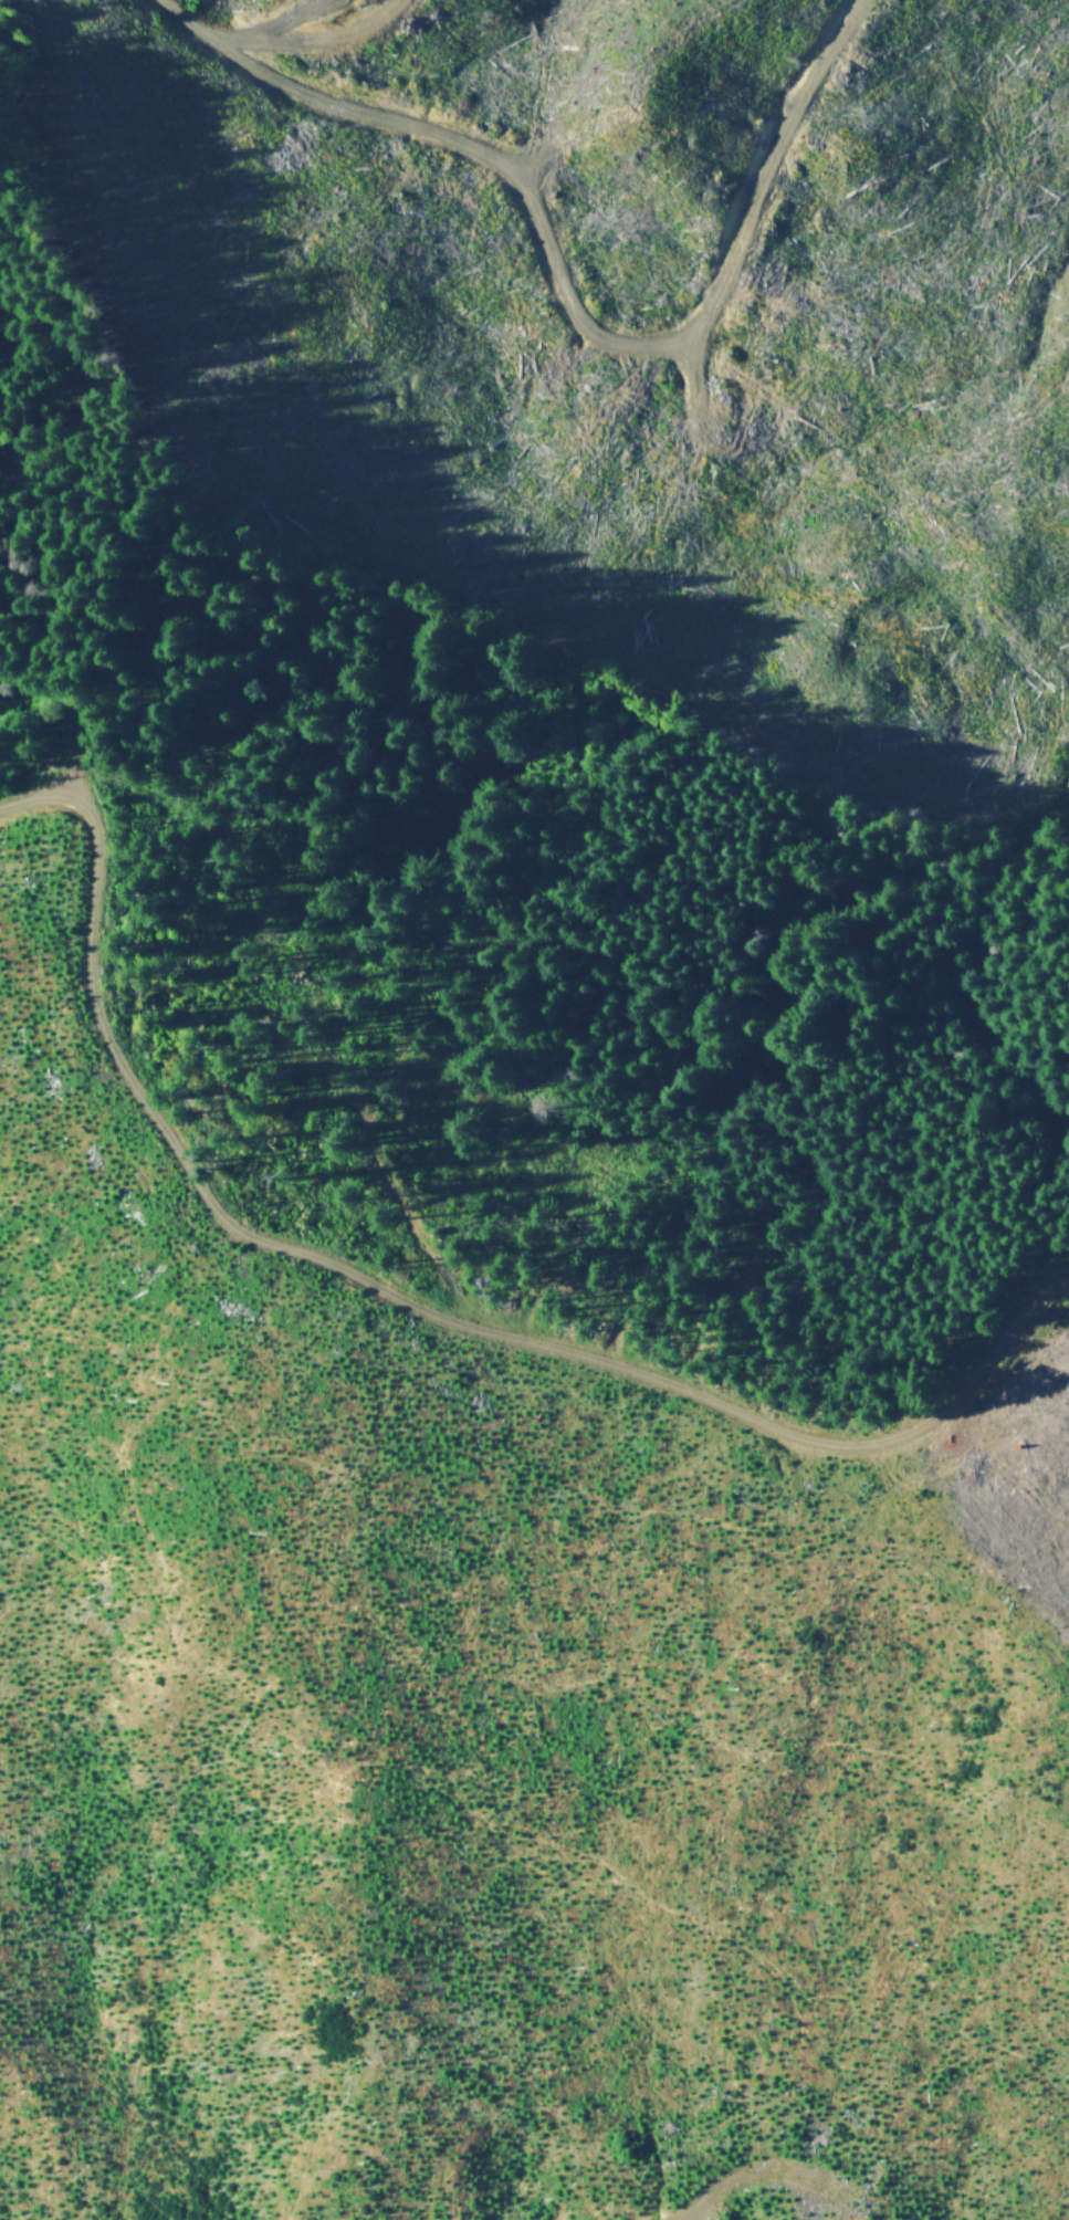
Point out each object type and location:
road: (412, 1298)

